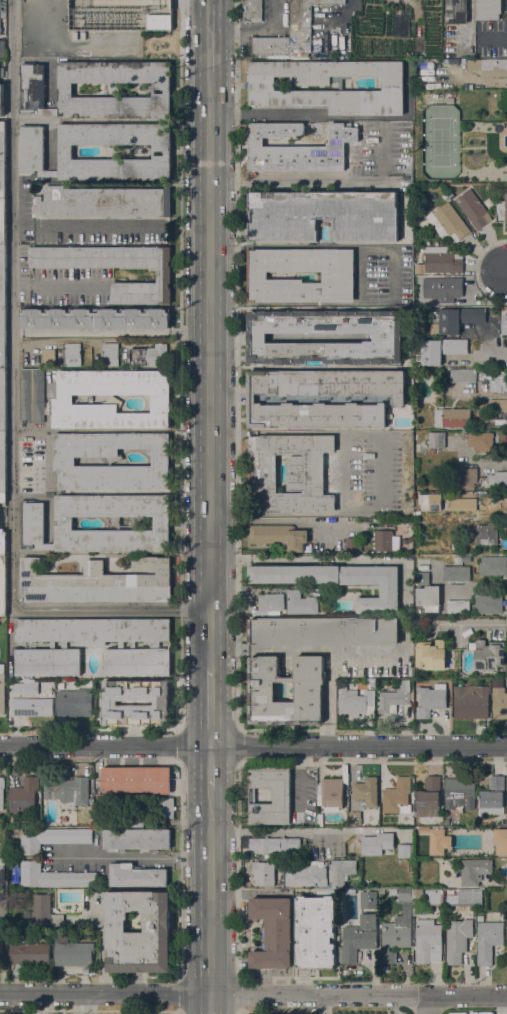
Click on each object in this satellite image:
building: (489, 9)
building: (252, 11)
building: (457, 11)
power substation: (125, 15)
building: (0, 17)
building: (303, 21)
building: (159, 22)
road: (255, 30)
building: (269, 46)
building: (2, 48)
building: (489, 67)
building: (1, 72)
building: (31, 87)
building: (262, 89)
building: (65, 91)
building: (1, 100)
building: (450, 100)
building: (48, 111)
road: (267, 115)
building: (298, 148)
building: (31, 149)
building: (115, 152)
building: (3, 160)
building: (48, 173)
building: (103, 202)
building: (473, 208)
building: (501, 208)
building: (323, 216)
building: (3, 222)
building: (448, 222)
building: (326, 242)
building: (442, 259)
building: (3, 261)
road: (506, 270)
road: (393, 273)
building: (164, 275)
building: (338, 275)
building: (444, 288)
building: (2, 292)
building: (97, 318)
building: (455, 319)
building: (505, 324)
road: (113, 332)
road: (212, 333)
building: (387, 337)
building: (3, 338)
building: (441, 349)
building: (73, 354)
building: (110, 354)
building: (148, 355)
building: (53, 357)
road: (494, 357)
building: (466, 375)
building: (499, 382)
building: (32, 395)
building: (323, 398)
building: (111, 399)
building: (3, 400)
road: (15, 400)
building: (498, 405)
building: (452, 417)
road: (277, 432)
building: (464, 435)
building: (436, 440)
building: (480, 441)
building: (111, 461)
building: (3, 462)
road: (489, 463)
road: (381, 471)
road: (341, 472)
building: (289, 473)
building: (466, 478)
building: (498, 481)
building: (3, 497)
building: (429, 502)
building: (463, 504)
road: (278, 513)
building: (32, 522)
building: (113, 522)
building: (410, 523)
building: (487, 534)
building: (279, 536)
building: (386, 541)
building: (3, 543)
building: (352, 544)
building: (44, 546)
building: (457, 559)
building: (465, 559)
building: (423, 564)
building: (493, 565)
building: (456, 573)
building: (422, 578)
building: (340, 581)
building: (98, 582)
road: (477, 584)
building: (3, 585)
building: (428, 599)
building: (301, 602)
building: (488, 603)
building: (270, 604)
building: (456, 606)
road: (471, 624)
building: (324, 631)
building: (155, 647)
road: (321, 651)
building: (431, 655)
building: (489, 655)
building: (89, 683)
building: (372, 683)
building: (25, 688)
building: (2, 689)
building: (309, 694)
road: (328, 698)
building: (393, 698)
building: (431, 699)
building: (355, 701)
building: (471, 701)
building: (75, 702)
building: (162, 703)
building: (499, 703)
road: (213, 705)
building: (31, 706)
road: (253, 745)
road: (214, 767)
building: (137, 779)
building: (346, 790)
building: (367, 790)
building: (68, 791)
building: (2, 792)
building: (331, 793)
building: (429, 793)
building: (460, 793)
building: (24, 795)
building: (281, 796)
building: (398, 797)
building: (493, 797)
building: (346, 802)
building: (164, 807)
building: (506, 809)
building: (2, 816)
building: (355, 818)
building: (320, 819)
building: (136, 822)
road: (260, 831)
building: (498, 834)
building: (53, 838)
building: (136, 839)
building: (438, 841)
building: (377, 843)
building: (274, 844)
building: (405, 851)
road: (132, 858)
building: (2, 868)
building: (342, 870)
building: (472, 871)
building: (264, 873)
building: (137, 875)
building: (54, 876)
building: (306, 876)
road: (497, 884)
building: (392, 892)
building: (434, 896)
building: (465, 898)
building: (368, 900)
road: (214, 902)
building: (416, 911)
building: (45, 912)
building: (480, 918)
building: (399, 926)
building: (158, 929)
building: (273, 932)
building: (315, 932)
building: (359, 938)
building: (458, 939)
building: (489, 940)
building: (428, 941)
building: (1, 948)
building: (72, 951)
building: (30, 953)
road: (253, 991)
road: (90, 1002)
road: (323, 1002)
road: (426, 1002)
road: (135, 1010)
road: (239, 1011)

